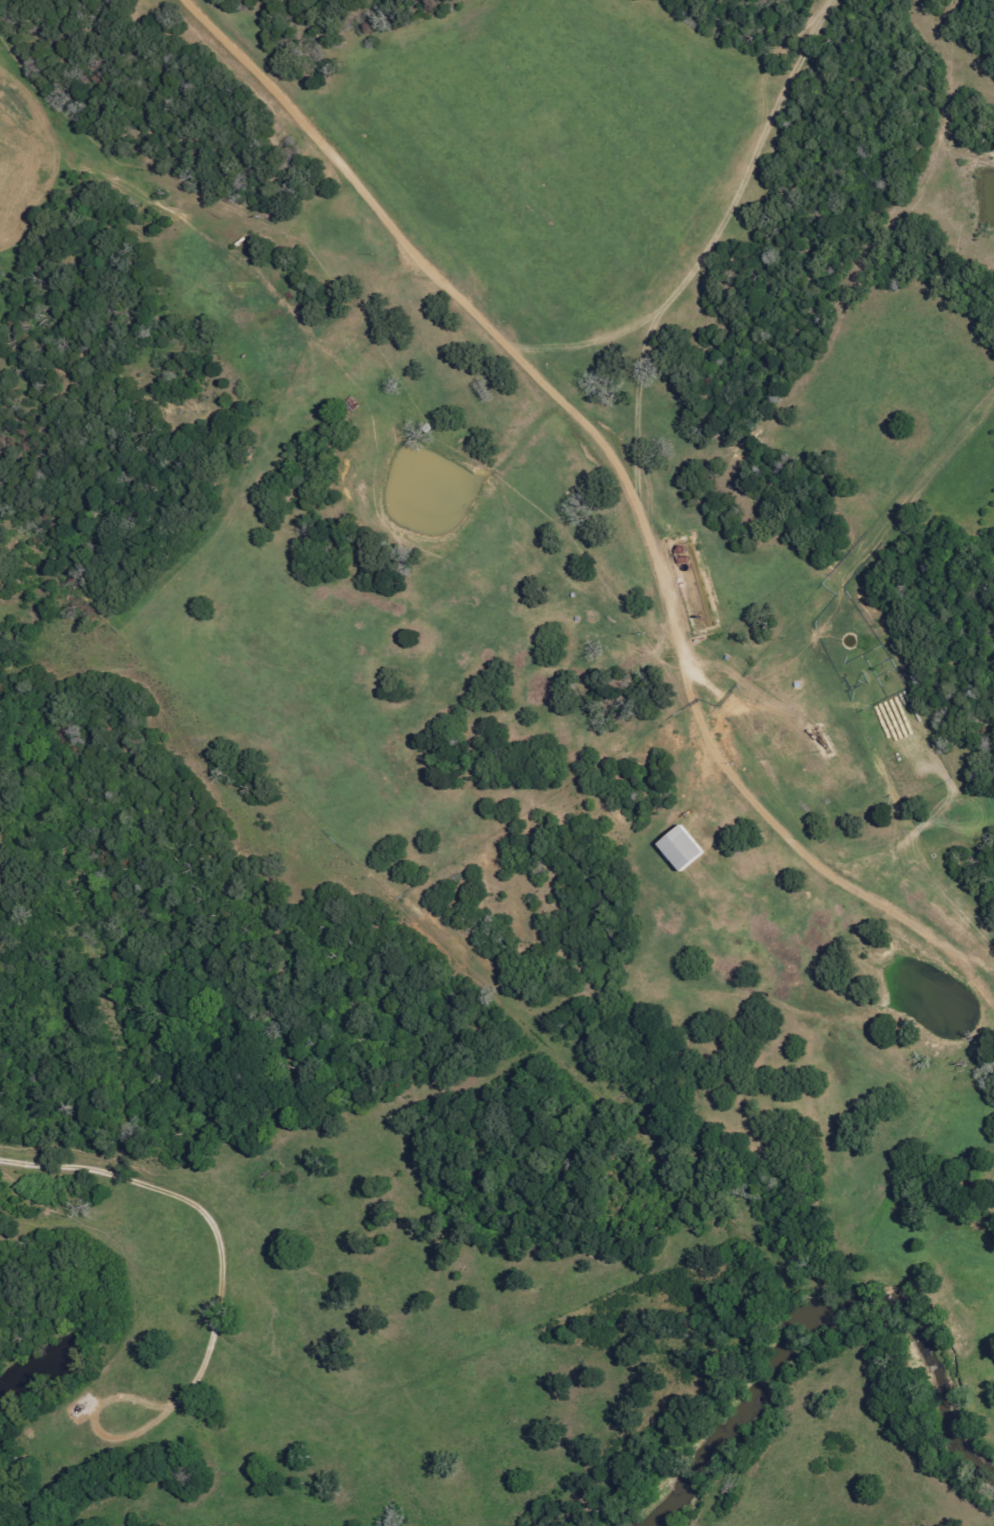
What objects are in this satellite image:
building: (684, 848)

